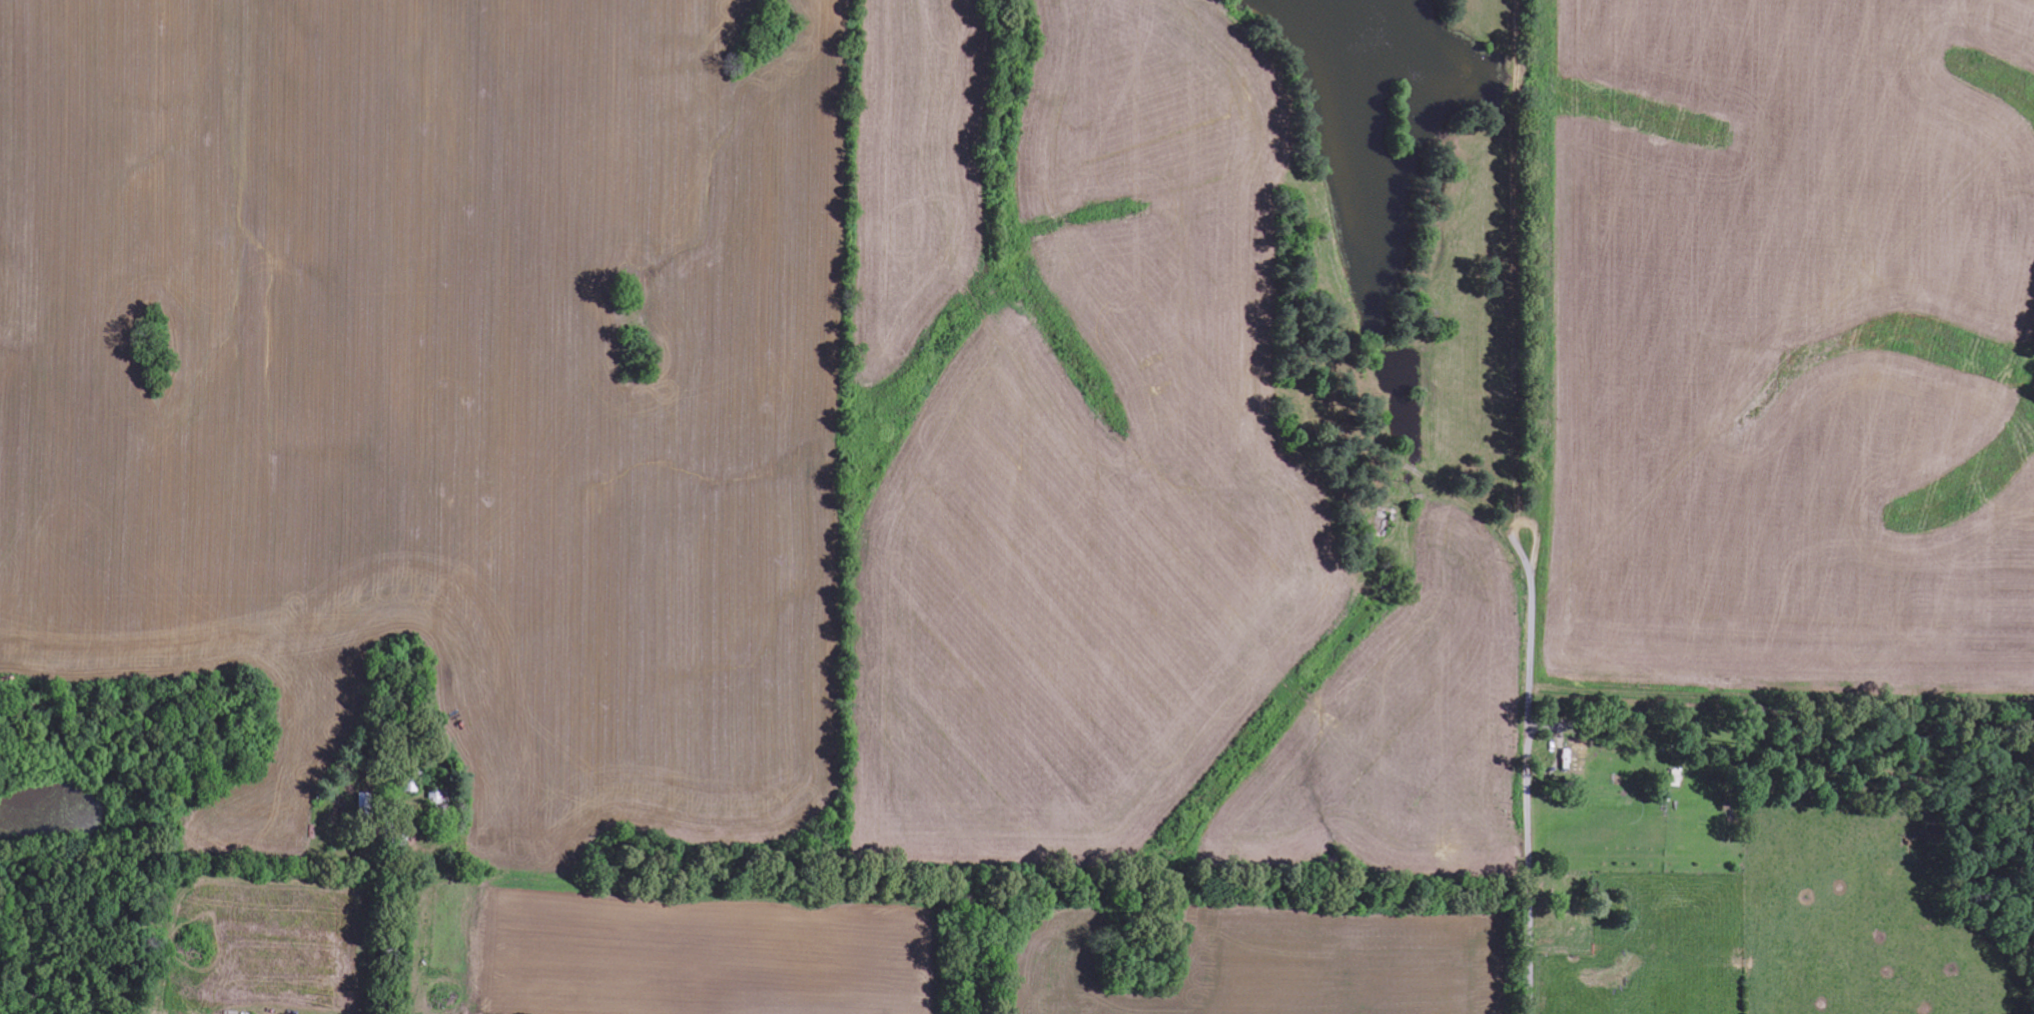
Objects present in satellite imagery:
road: (1522, 524)
road: (1530, 797)

